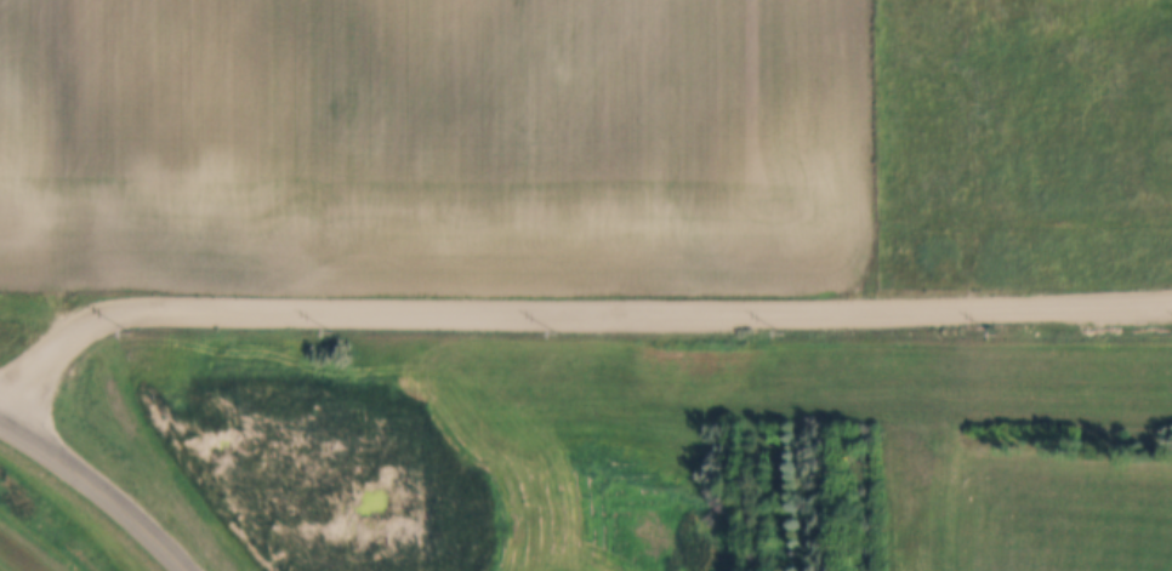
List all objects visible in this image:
road: (66, 219)
road: (104, 485)

